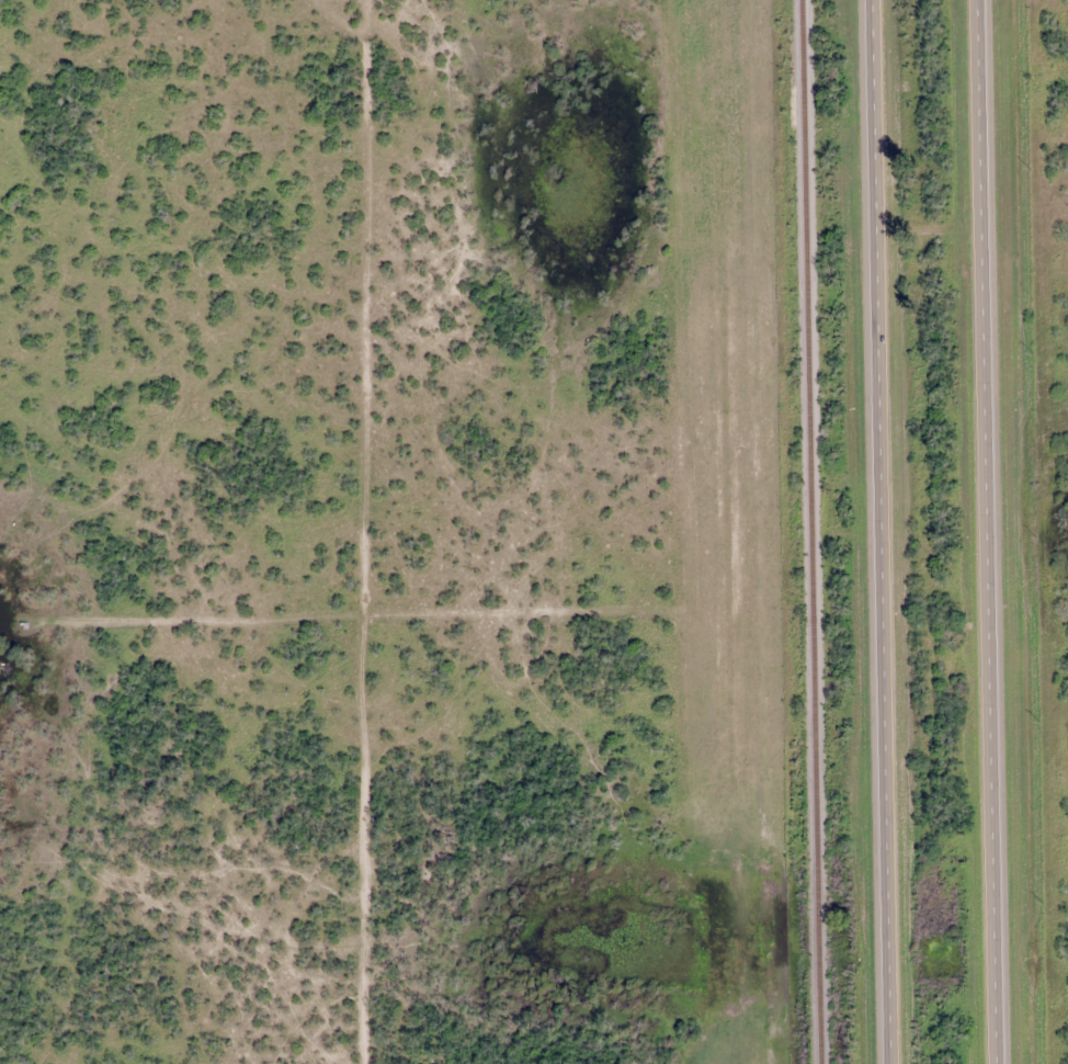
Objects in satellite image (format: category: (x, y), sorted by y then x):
road: (992, 531)
railway: (815, 532)
road: (885, 532)

